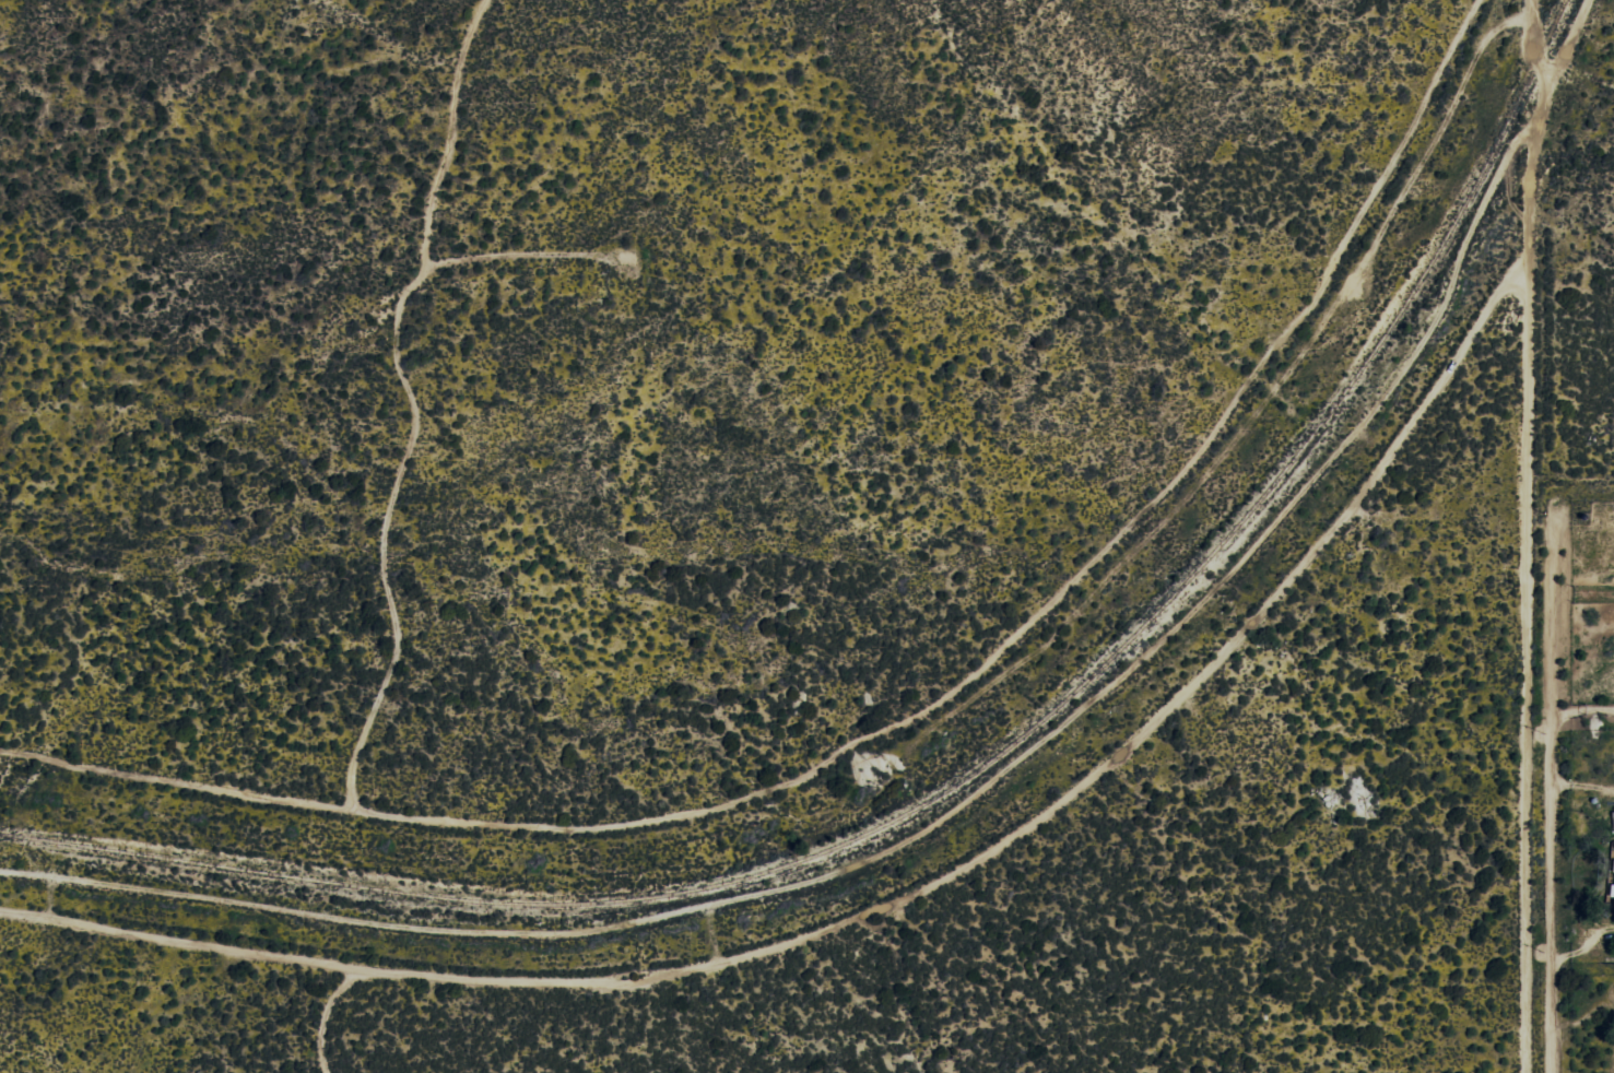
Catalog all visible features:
road: (1586, 33)
road: (1560, 69)
road: (1574, 497)
road: (1534, 533)
railway: (962, 773)
building: (1612, 891)

